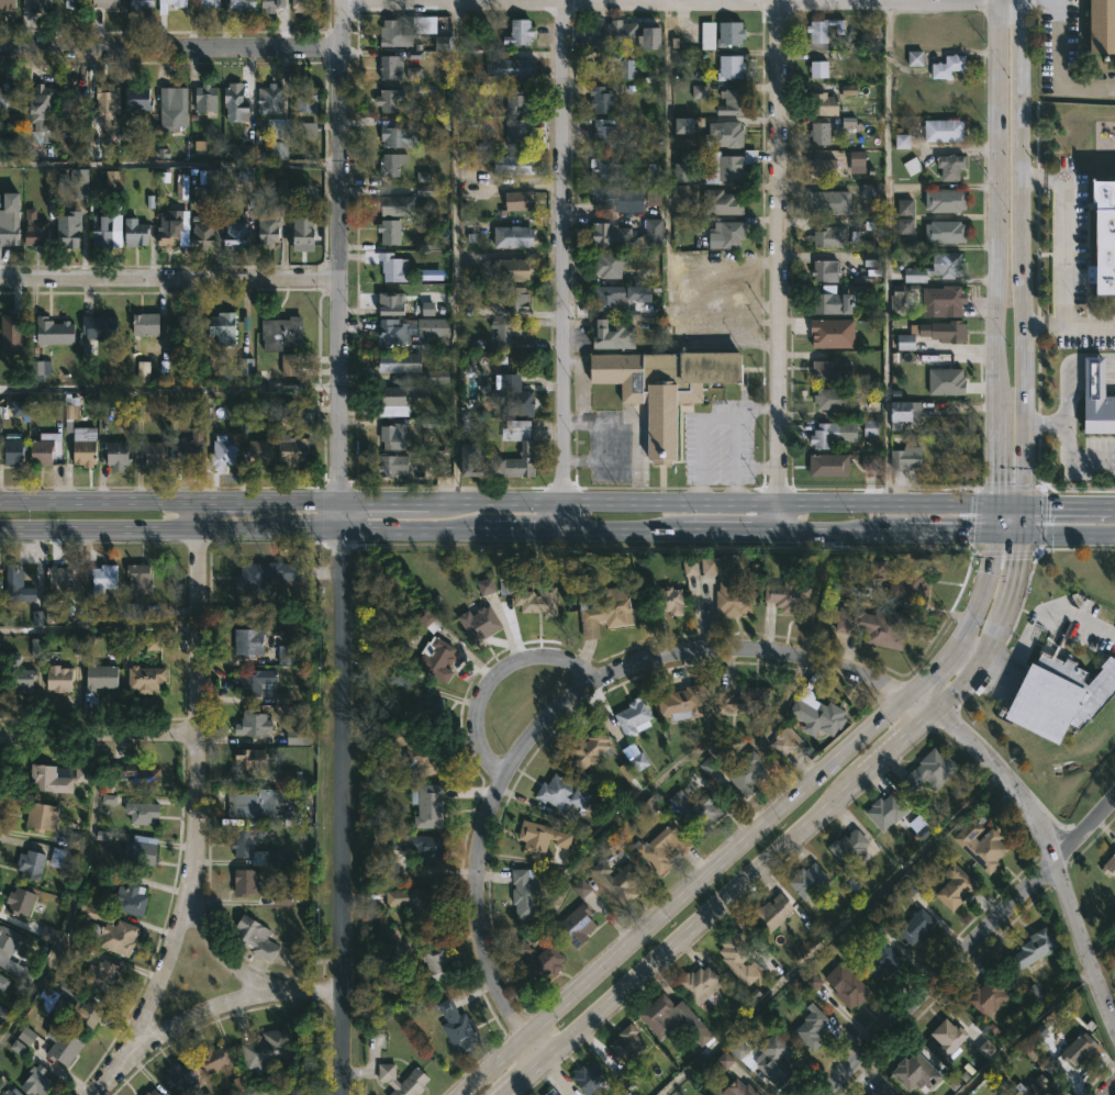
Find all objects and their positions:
road: (888, 0)
road: (731, 1)
building: (42, 3)
building: (77, 3)
building: (105, 3)
building: (210, 3)
building: (242, 3)
building: (7, 4)
building: (141, 4)
building: (272, 4)
building: (303, 5)
building: (163, 11)
building: (1101, 26)
building: (405, 29)
building: (521, 32)
building: (825, 32)
building: (623, 34)
building: (723, 34)
building: (442, 43)
road: (169, 46)
road: (1056, 49)
building: (414, 55)
building: (914, 58)
building: (625, 64)
building: (510, 66)
building: (950, 66)
building: (391, 68)
building: (732, 68)
building: (818, 69)
building: (848, 90)
building: (699, 91)
building: (8, 98)
building: (207, 98)
building: (306, 98)
building: (138, 99)
building: (270, 99)
building: (603, 99)
building: (391, 100)
building: (105, 101)
building: (519, 101)
building: (733, 103)
building: (38, 104)
building: (235, 104)
building: (824, 104)
building: (174, 108)
building: (848, 123)
building: (683, 125)
road: (1010, 125)
building: (308, 130)
building: (945, 130)
building: (519, 132)
building: (604, 133)
building: (401, 134)
building: (727, 135)
building: (2, 136)
building: (821, 136)
road: (338, 138)
building: (901, 142)
building: (280, 147)
building: (242, 153)
road: (168, 161)
building: (857, 163)
building: (393, 165)
building: (514, 165)
building: (602, 165)
building: (732, 165)
building: (952, 167)
building: (825, 168)
building: (683, 172)
road: (1090, 172)
road: (1037, 175)
building: (423, 176)
building: (113, 179)
building: (213, 179)
building: (79, 182)
building: (181, 187)
building: (868, 191)
building: (679, 193)
building: (301, 195)
building: (618, 199)
building: (521, 201)
building: (947, 201)
building: (723, 202)
building: (828, 203)
building: (395, 205)
building: (904, 206)
building: (270, 225)
building: (904, 226)
building: (174, 228)
building: (35, 230)
building: (69, 230)
building: (102, 231)
building: (390, 232)
building: (136, 233)
building: (946, 233)
building: (9, 235)
building: (202, 235)
building: (236, 235)
building: (303, 235)
building: (627, 235)
building: (728, 236)
building: (514, 237)
building: (832, 237)
building: (1102, 241)
road: (1064, 245)
road: (454, 250)
road: (887, 253)
building: (871, 259)
road: (565, 265)
road: (780, 265)
building: (948, 265)
building: (609, 266)
building: (394, 268)
building: (513, 270)
building: (825, 271)
road: (168, 278)
building: (618, 298)
building: (516, 301)
building: (837, 301)
building: (897, 302)
building: (945, 302)
building: (405, 305)
road: (1089, 323)
building: (146, 324)
road: (1045, 324)
building: (100, 327)
building: (434, 327)
building: (224, 328)
building: (55, 332)
road: (999, 332)
building: (281, 333)
building: (394, 333)
building: (509, 333)
building: (10, 334)
building: (827, 334)
building: (934, 334)
building: (613, 337)
building: (288, 365)
building: (245, 367)
building: (400, 367)
road: (1068, 368)
building: (41, 370)
building: (142, 371)
building: (832, 371)
building: (437, 377)
road: (1023, 378)
building: (946, 381)
building: (664, 387)
road: (168, 388)
road: (337, 390)
building: (510, 392)
building: (395, 396)
building: (833, 400)
building: (1096, 400)
building: (286, 407)
building: (18, 409)
road: (755, 410)
building: (906, 413)
road: (733, 423)
building: (869, 428)
building: (832, 435)
building: (392, 437)
road: (1064, 443)
building: (527, 446)
building: (45, 449)
building: (86, 450)
building: (293, 450)
building: (186, 451)
building: (14, 452)
building: (260, 452)
building: (905, 452)
building: (153, 454)
building: (224, 454)
building: (118, 456)
road: (996, 459)
building: (869, 461)
building: (479, 463)
building: (829, 465)
building: (393, 466)
road: (735, 484)
road: (700, 490)
road: (498, 502)
traffic signals: (996, 506)
traffic signals: (1025, 507)
road: (1055, 507)
road: (995, 518)
road: (1025, 519)
road: (497, 529)
traffic signals: (995, 532)
traffic signals: (1025, 533)
road: (1055, 533)
building: (58, 573)
building: (12, 574)
building: (265, 574)
building: (104, 577)
building: (140, 578)
building: (506, 578)
building: (902, 579)
road: (1019, 580)
building: (789, 595)
building: (538, 599)
building: (735, 599)
building: (670, 600)
building: (605, 610)
building: (480, 622)
building: (876, 624)
road: (99, 628)
road: (1036, 632)
building: (249, 641)
building: (438, 657)
road: (493, 674)
building: (101, 675)
road: (974, 677)
building: (60, 678)
building: (146, 678)
building: (22, 680)
building: (255, 680)
building: (1057, 693)
building: (747, 700)
building: (684, 702)
building: (430, 703)
road: (559, 704)
building: (635, 716)
building: (819, 716)
building: (255, 723)
road: (99, 733)
building: (785, 742)
road: (338, 748)
road: (900, 748)
building: (590, 750)
building: (419, 751)
building: (253, 758)
road: (991, 767)
building: (932, 770)
building: (748, 773)
building: (137, 774)
building: (52, 778)
building: (564, 792)
road: (196, 802)
building: (254, 802)
building: (428, 804)
building: (698, 811)
building: (888, 811)
building: (144, 812)
building: (42, 816)
road: (757, 829)
building: (545, 840)
building: (243, 843)
building: (983, 845)
building: (416, 846)
building: (850, 847)
building: (664, 848)
building: (143, 852)
building: (65, 859)
building: (31, 863)
building: (1110, 865)
building: (810, 880)
building: (246, 882)
building: (624, 883)
building: (956, 886)
building: (525, 893)
building: (132, 898)
building: (20, 900)
building: (414, 901)
building: (774, 912)
building: (579, 924)
road: (705, 925)
building: (918, 926)
building: (115, 936)
building: (255, 936)
road: (1084, 941)
building: (7, 946)
building: (1035, 948)
road: (967, 949)
road: (218, 951)
building: (738, 953)
building: (538, 959)
building: (882, 961)
building: (438, 963)
building: (103, 975)
building: (3, 983)
building: (701, 983)
building: (848, 985)
building: (988, 996)
road: (203, 1009)
building: (87, 1016)
building: (674, 1019)
building: (459, 1027)
building: (813, 1028)
building: (949, 1036)
building: (628, 1042)
road: (342, 1043)
building: (64, 1044)
building: (1080, 1049)
building: (269, 1051)
road: (534, 1054)
building: (776, 1058)
building: (212, 1060)
building: (916, 1072)
building: (591, 1077)
building: (182, 1079)
building: (416, 1079)
building: (36, 1081)
road: (531, 1083)
building: (1037, 1087)
building: (742, 1088)
road: (1108, 1088)
building: (883, 1090)
building: (8, 1092)
road: (306, 1092)
building: (553, 1092)
building: (153, 1093)

